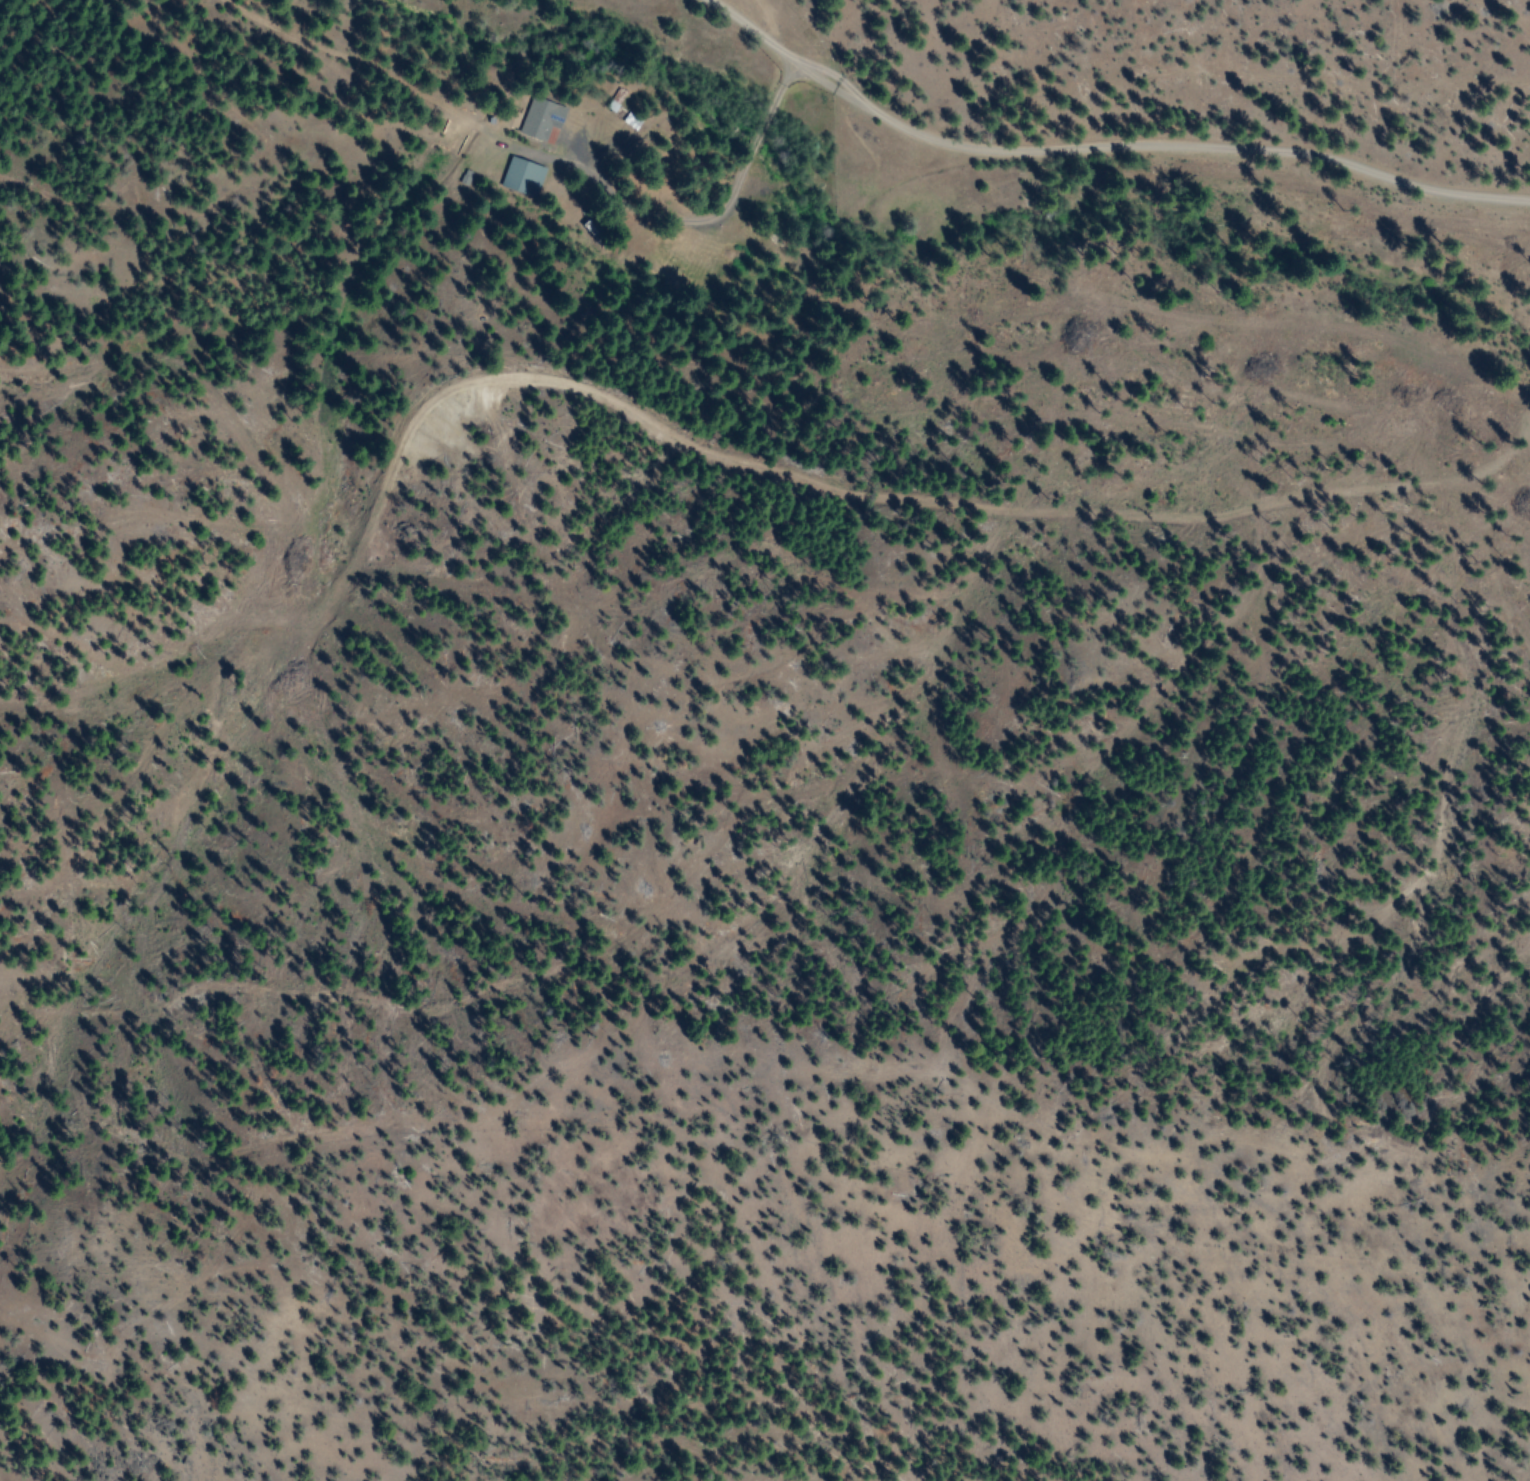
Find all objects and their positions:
building: (543, 119)
road: (1089, 168)
building: (524, 177)

